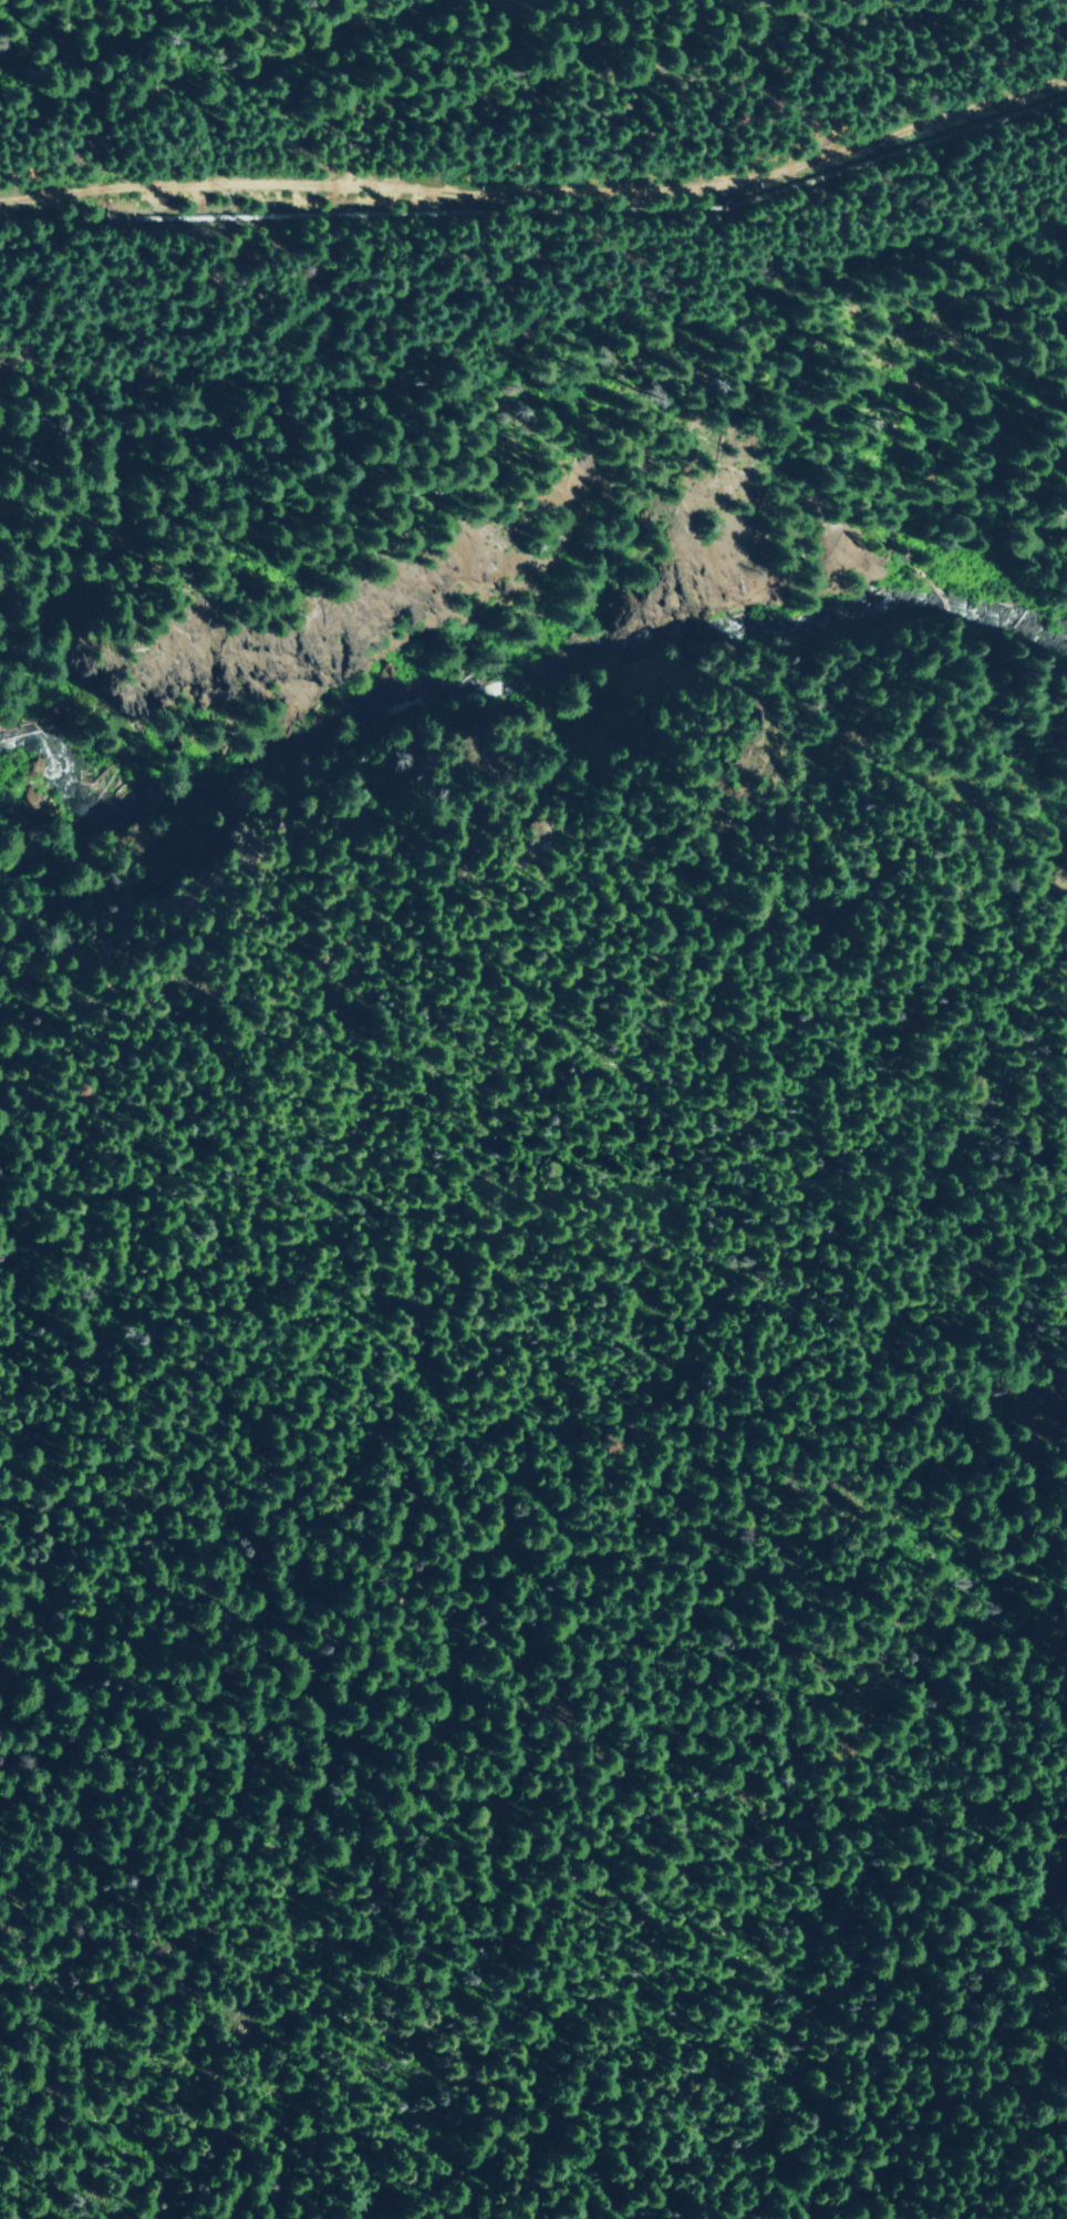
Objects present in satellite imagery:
road: (540, 192)
road: (113, 213)
river: (528, 664)
road: (531, 856)

